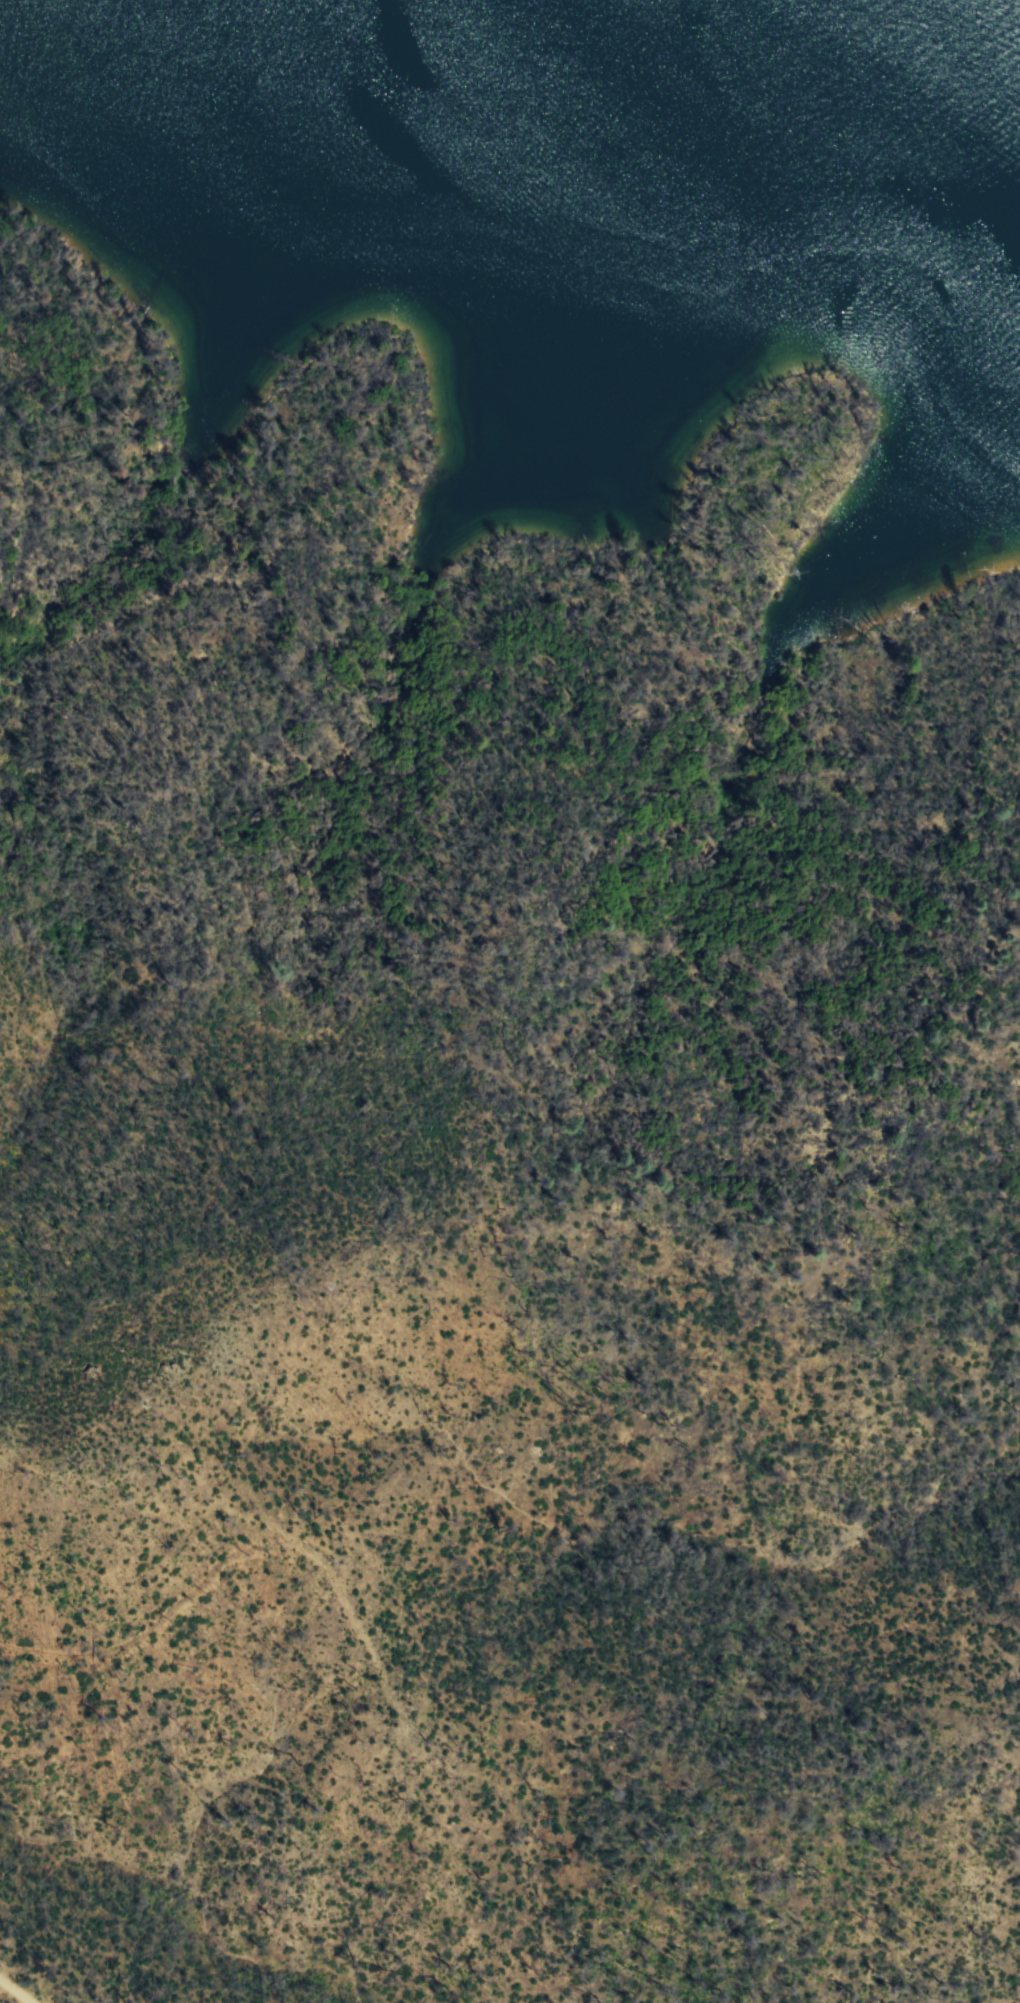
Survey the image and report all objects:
road: (15, 1990)

